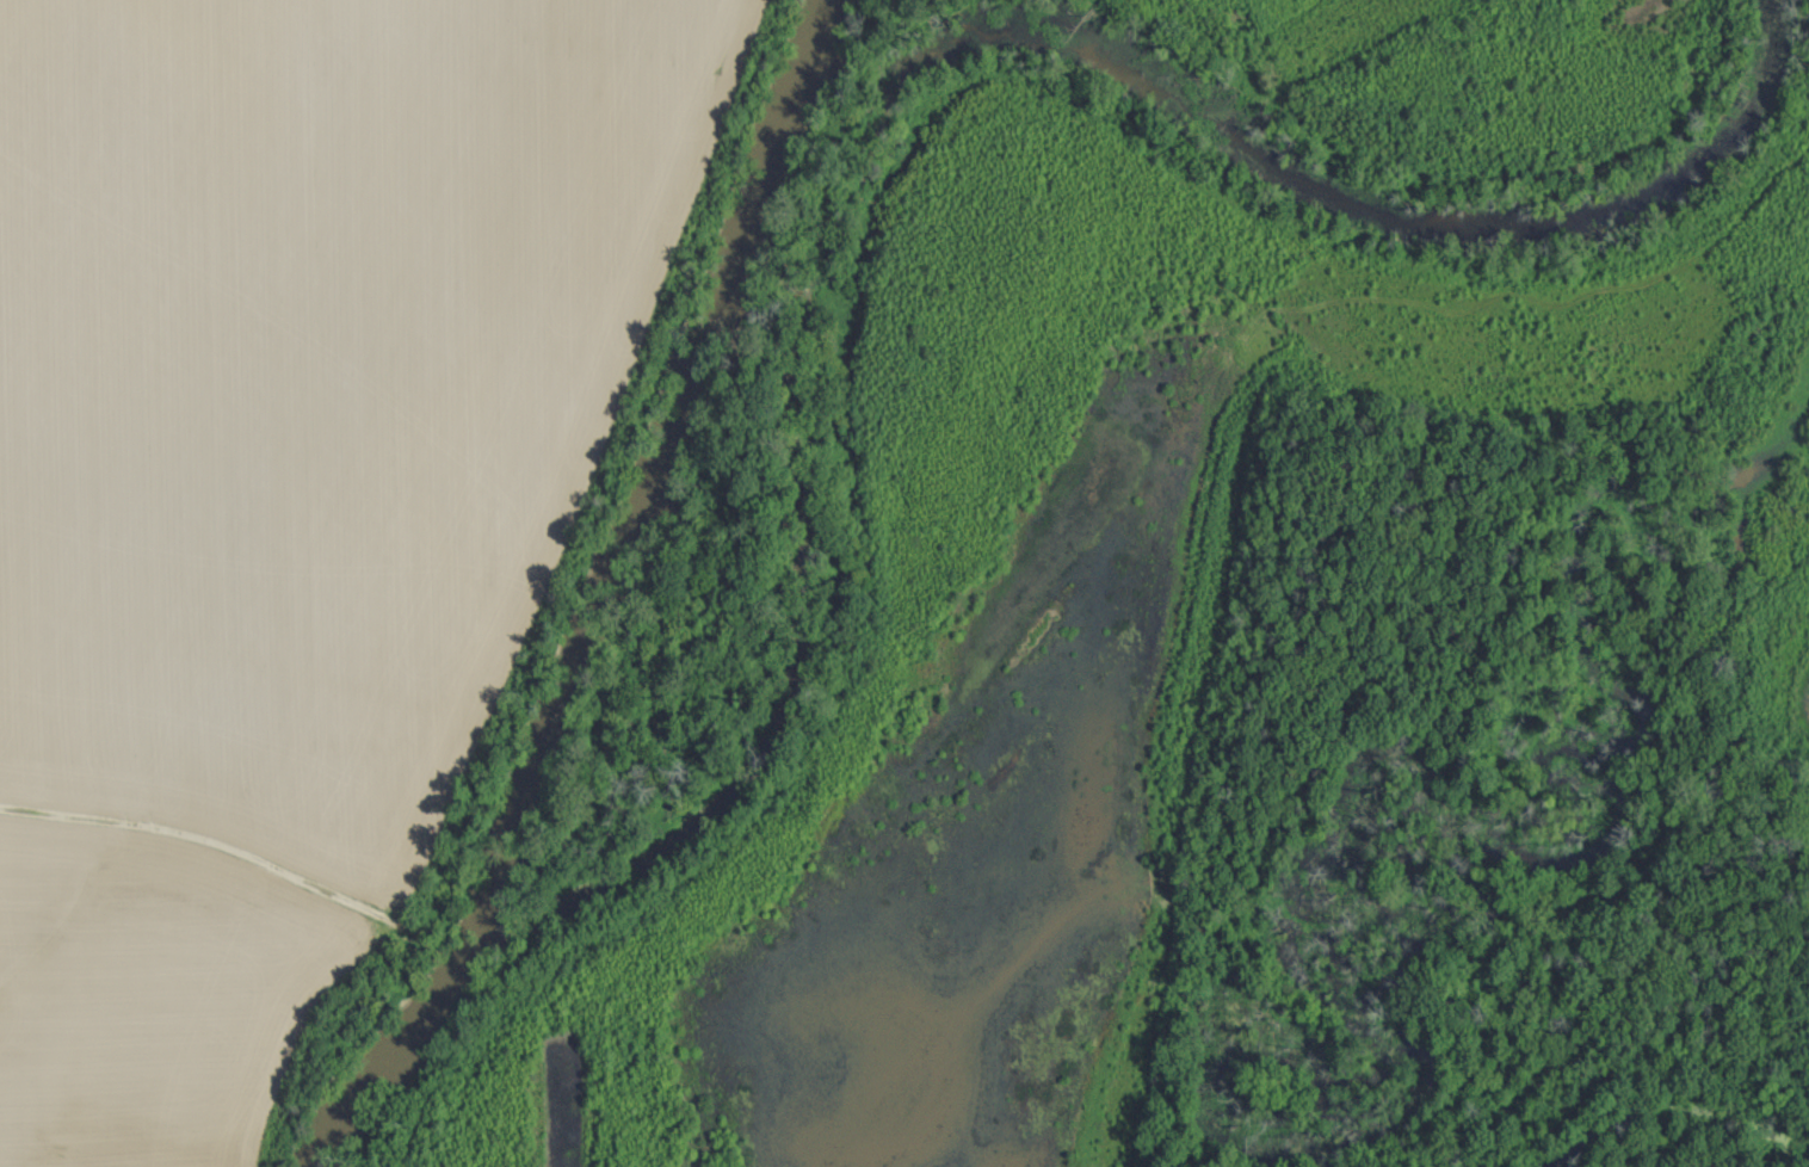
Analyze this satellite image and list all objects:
river: (827, 206)

